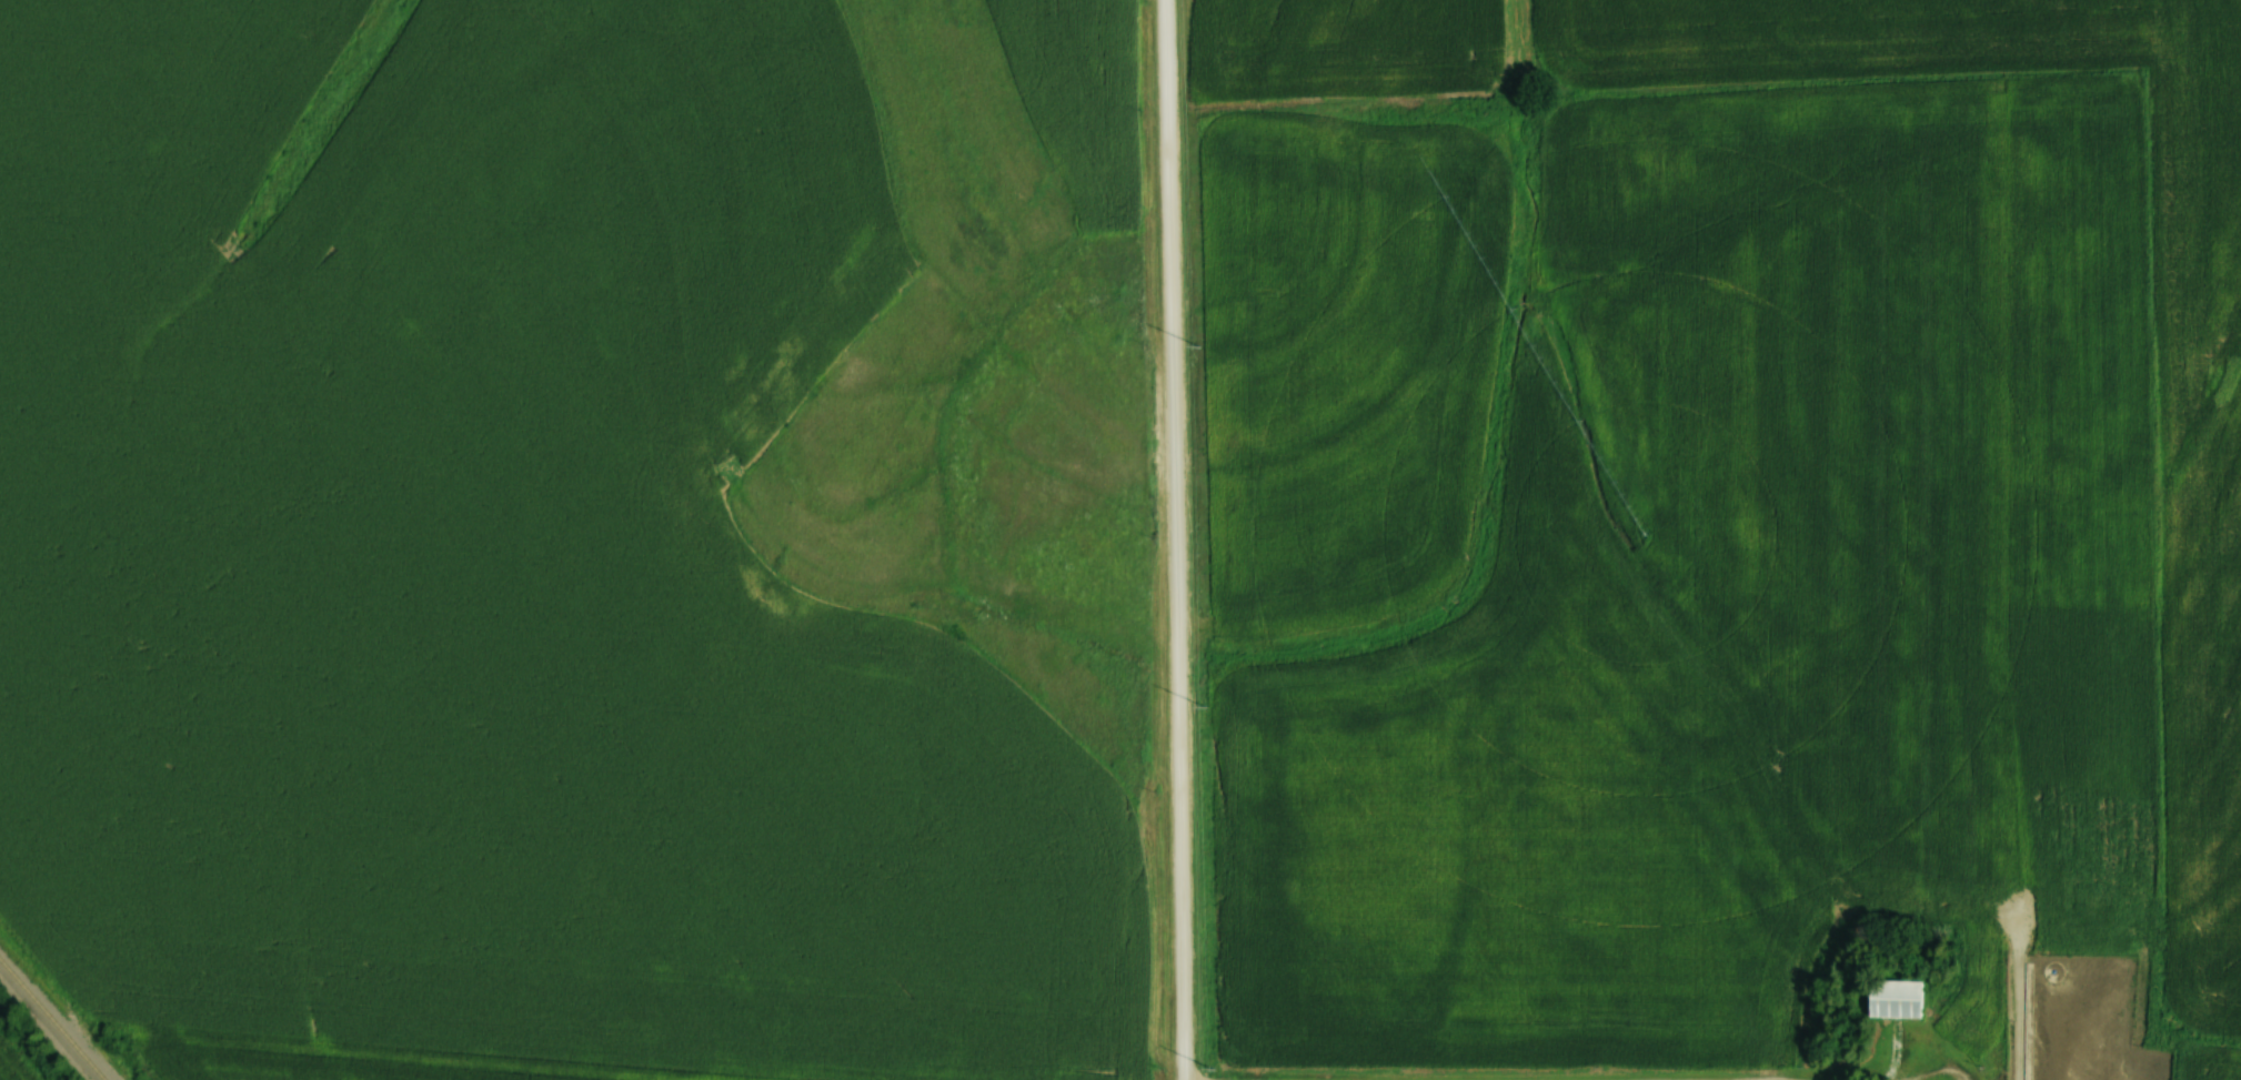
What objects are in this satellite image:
road: (1179, 539)
building: (1891, 999)
railway: (54, 1011)

